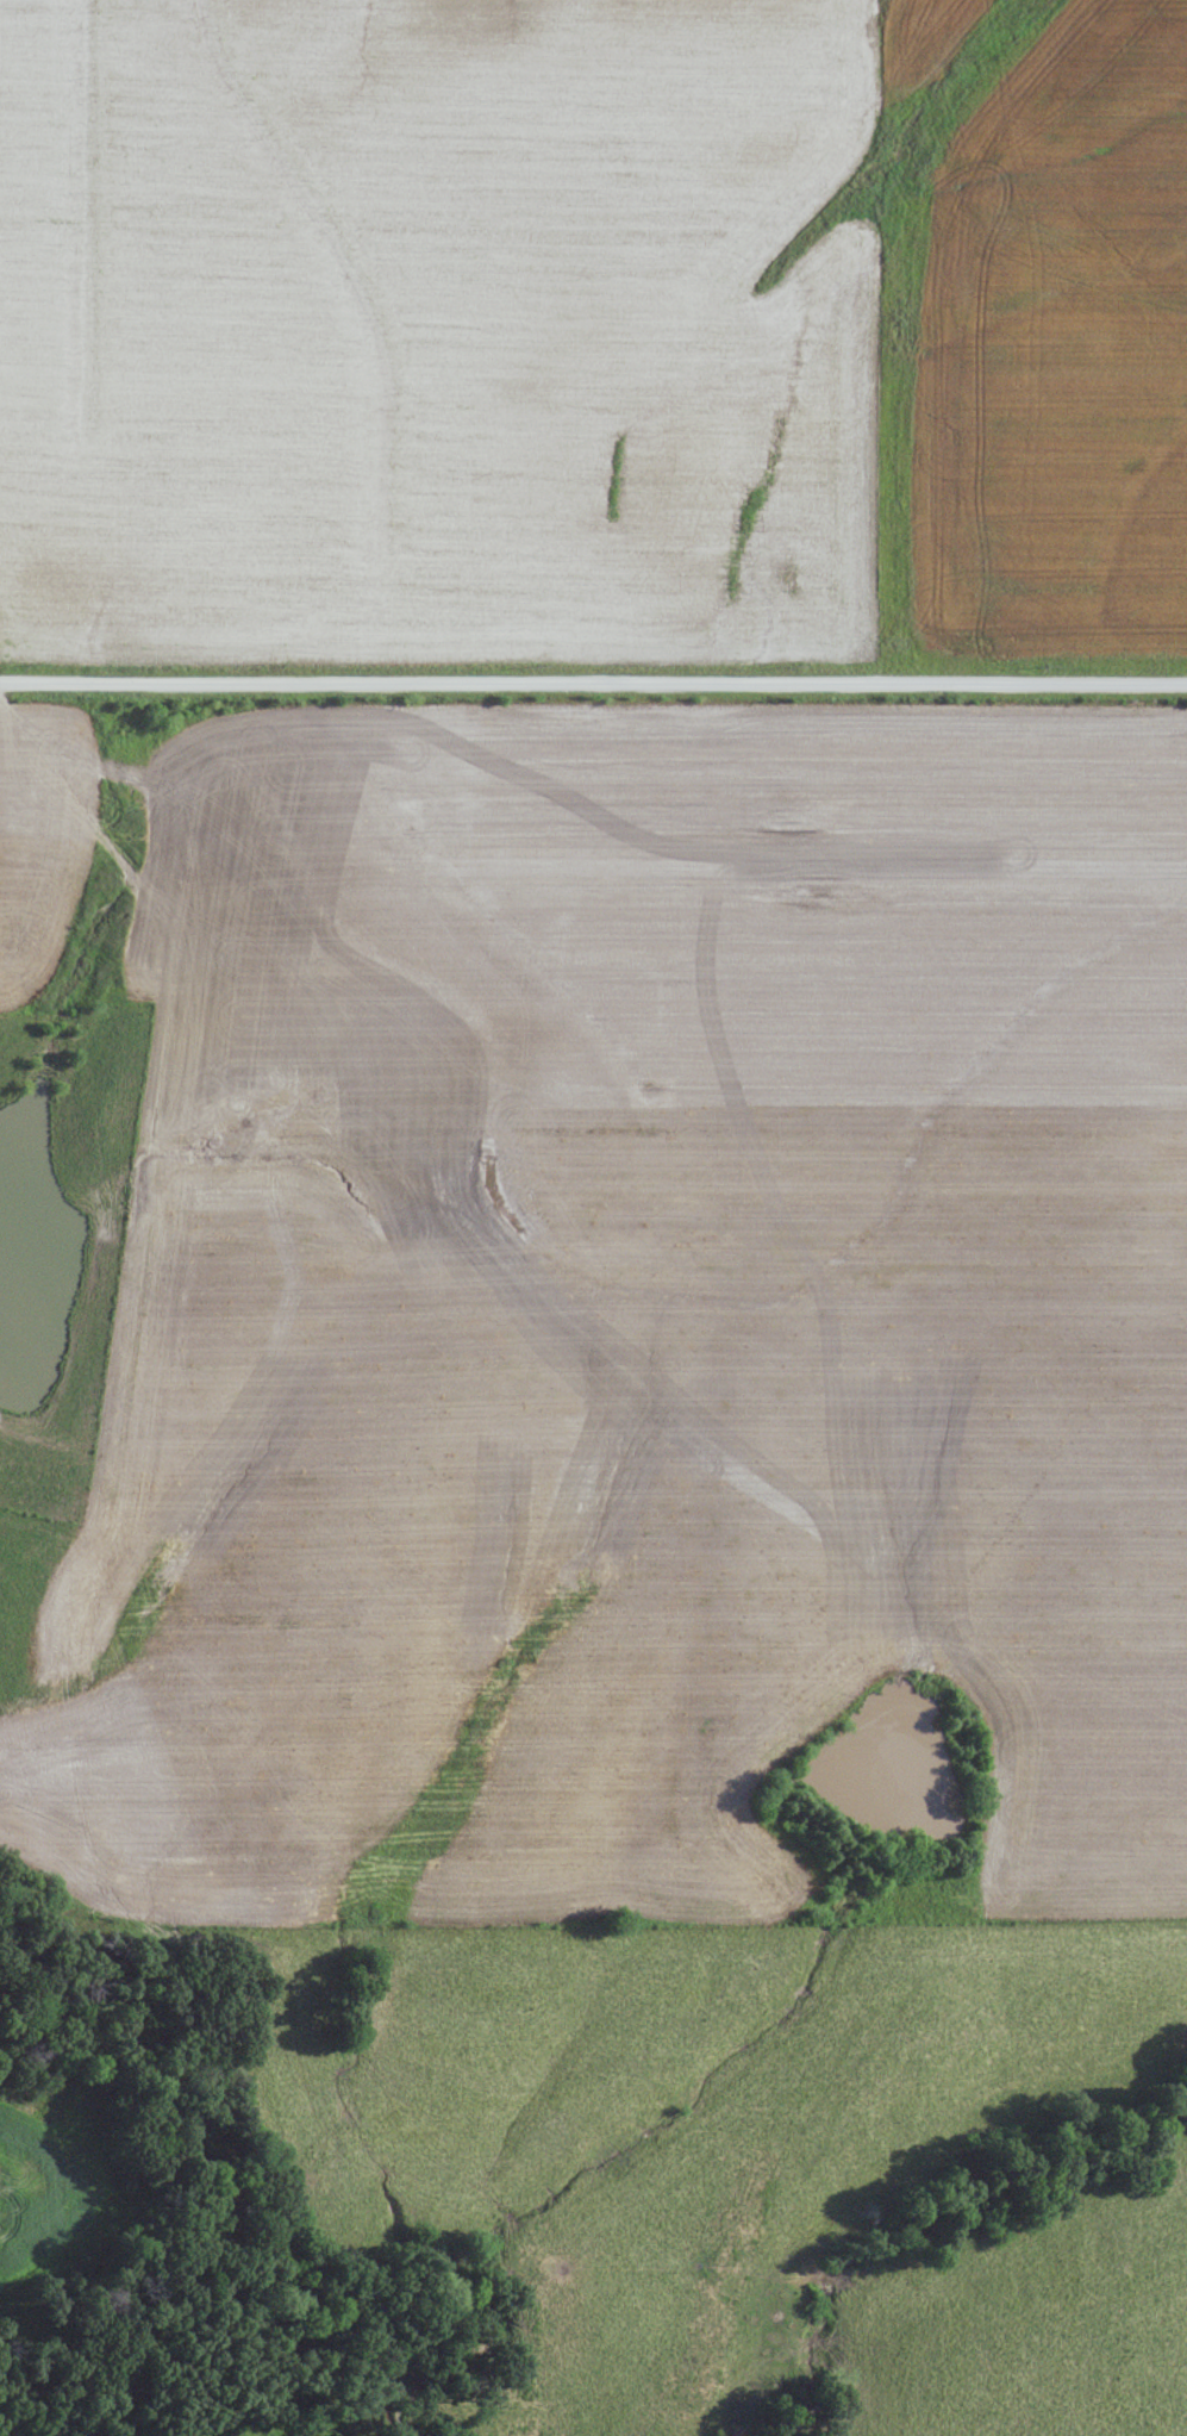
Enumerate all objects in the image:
road: (593, 683)

